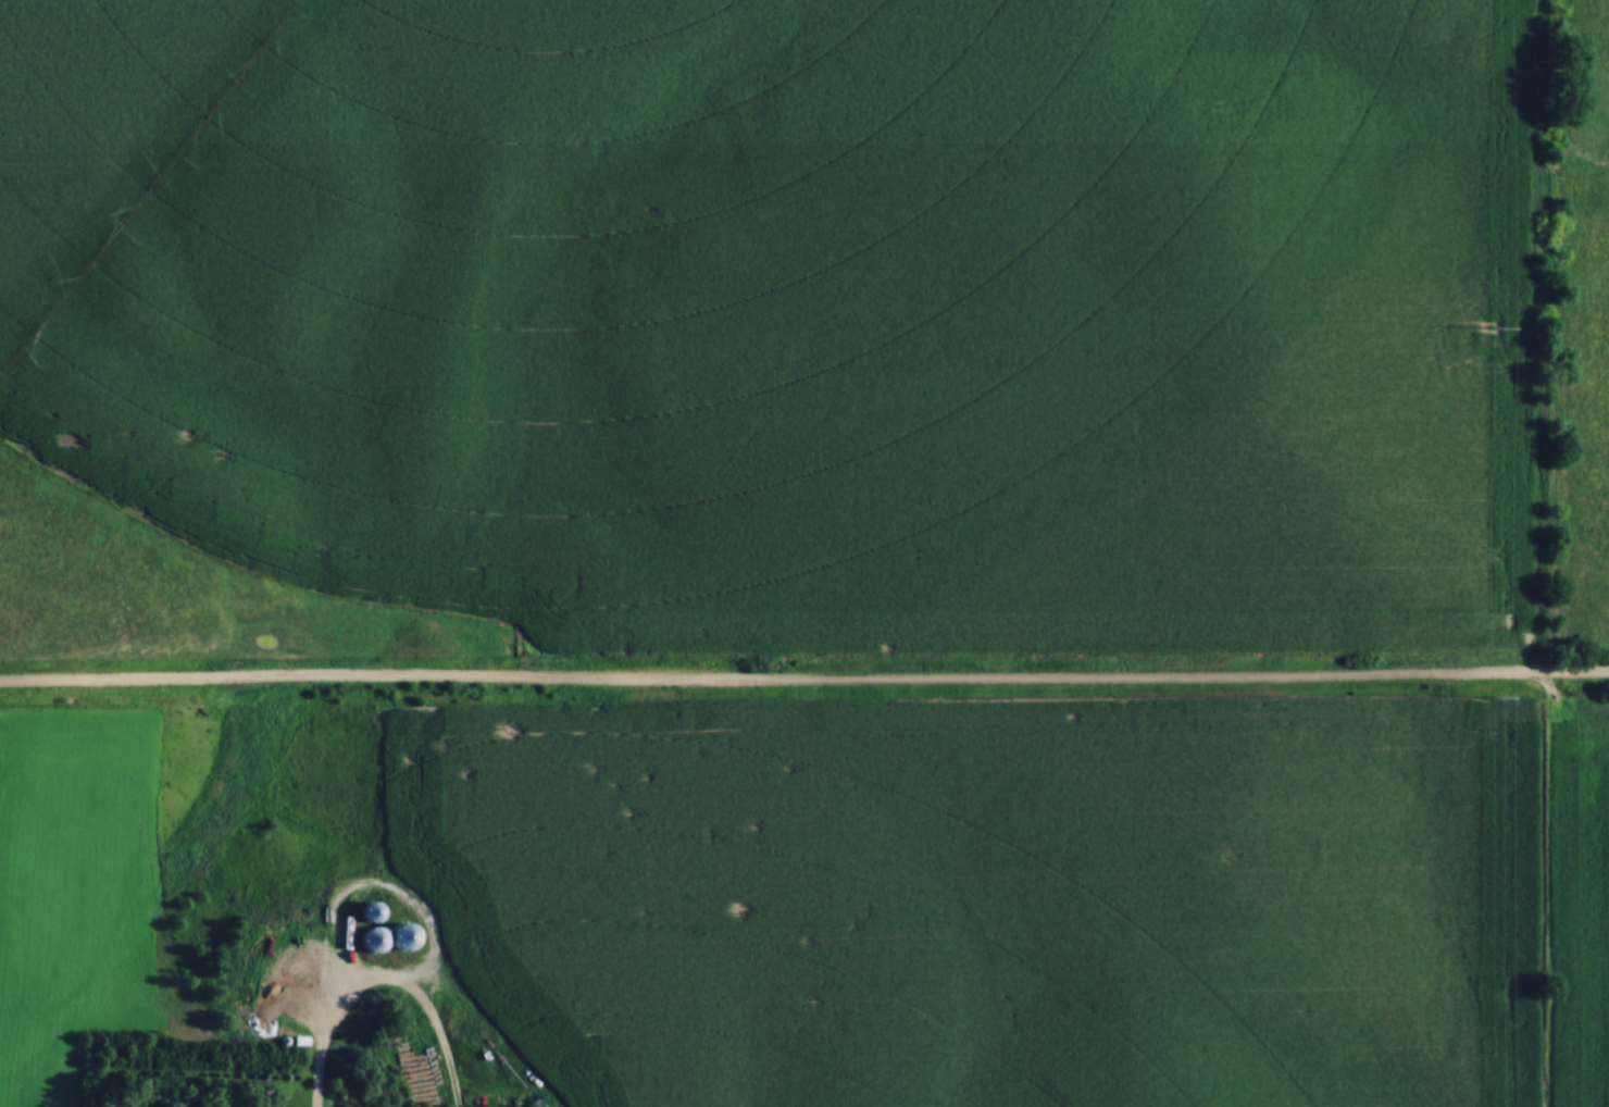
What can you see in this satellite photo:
power tower: (1492, 329)
road: (804, 686)
power tower: (1490, 699)
building: (365, 916)
building: (383, 940)

